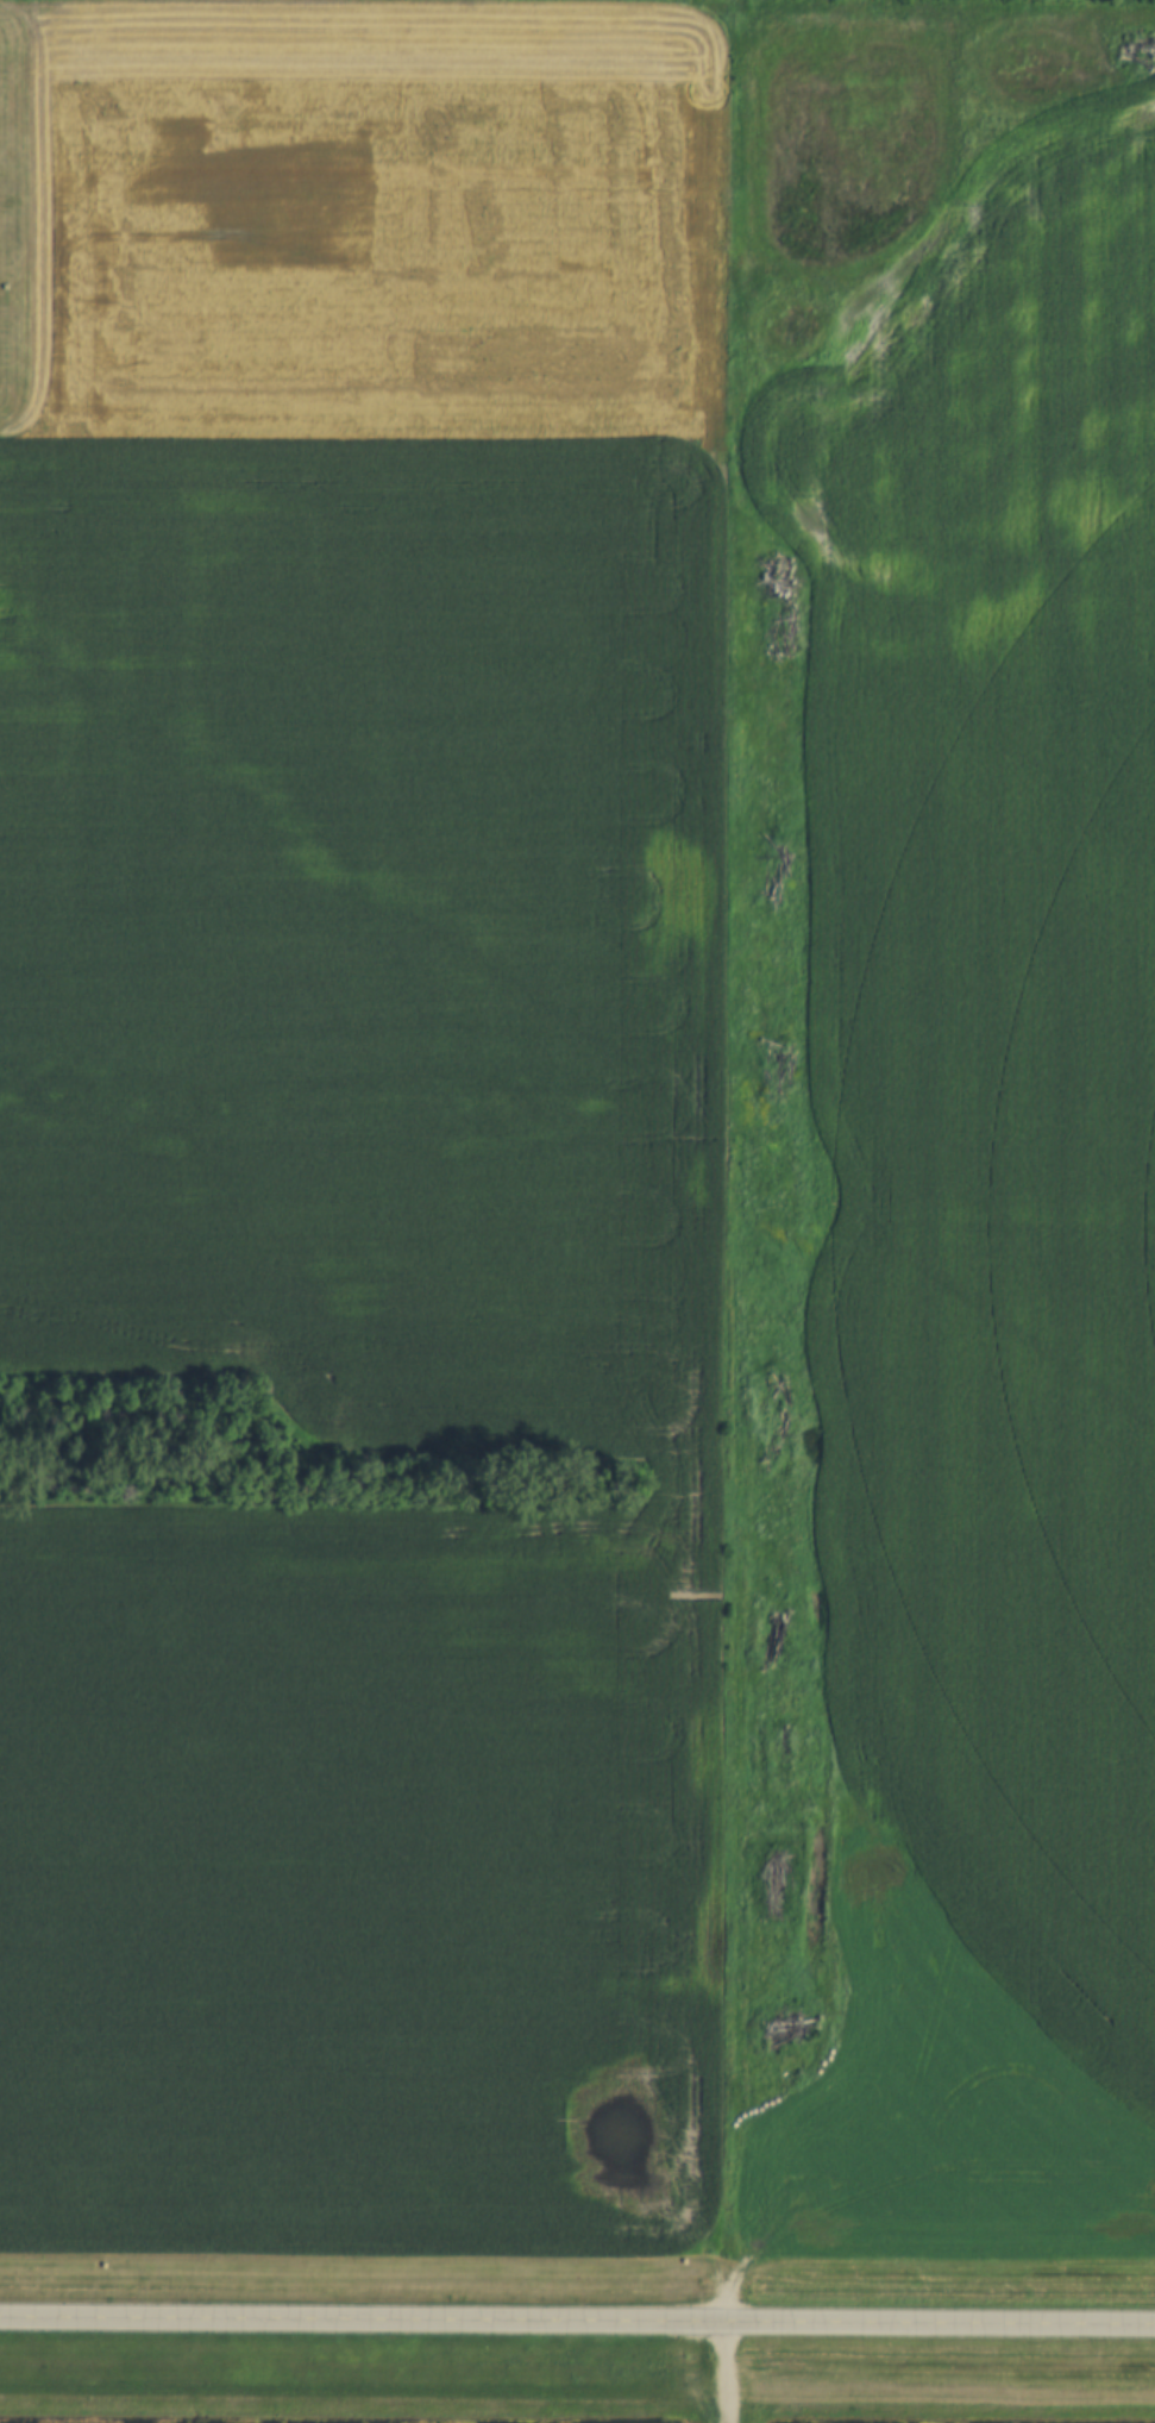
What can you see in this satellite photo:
road: (577, 2323)

